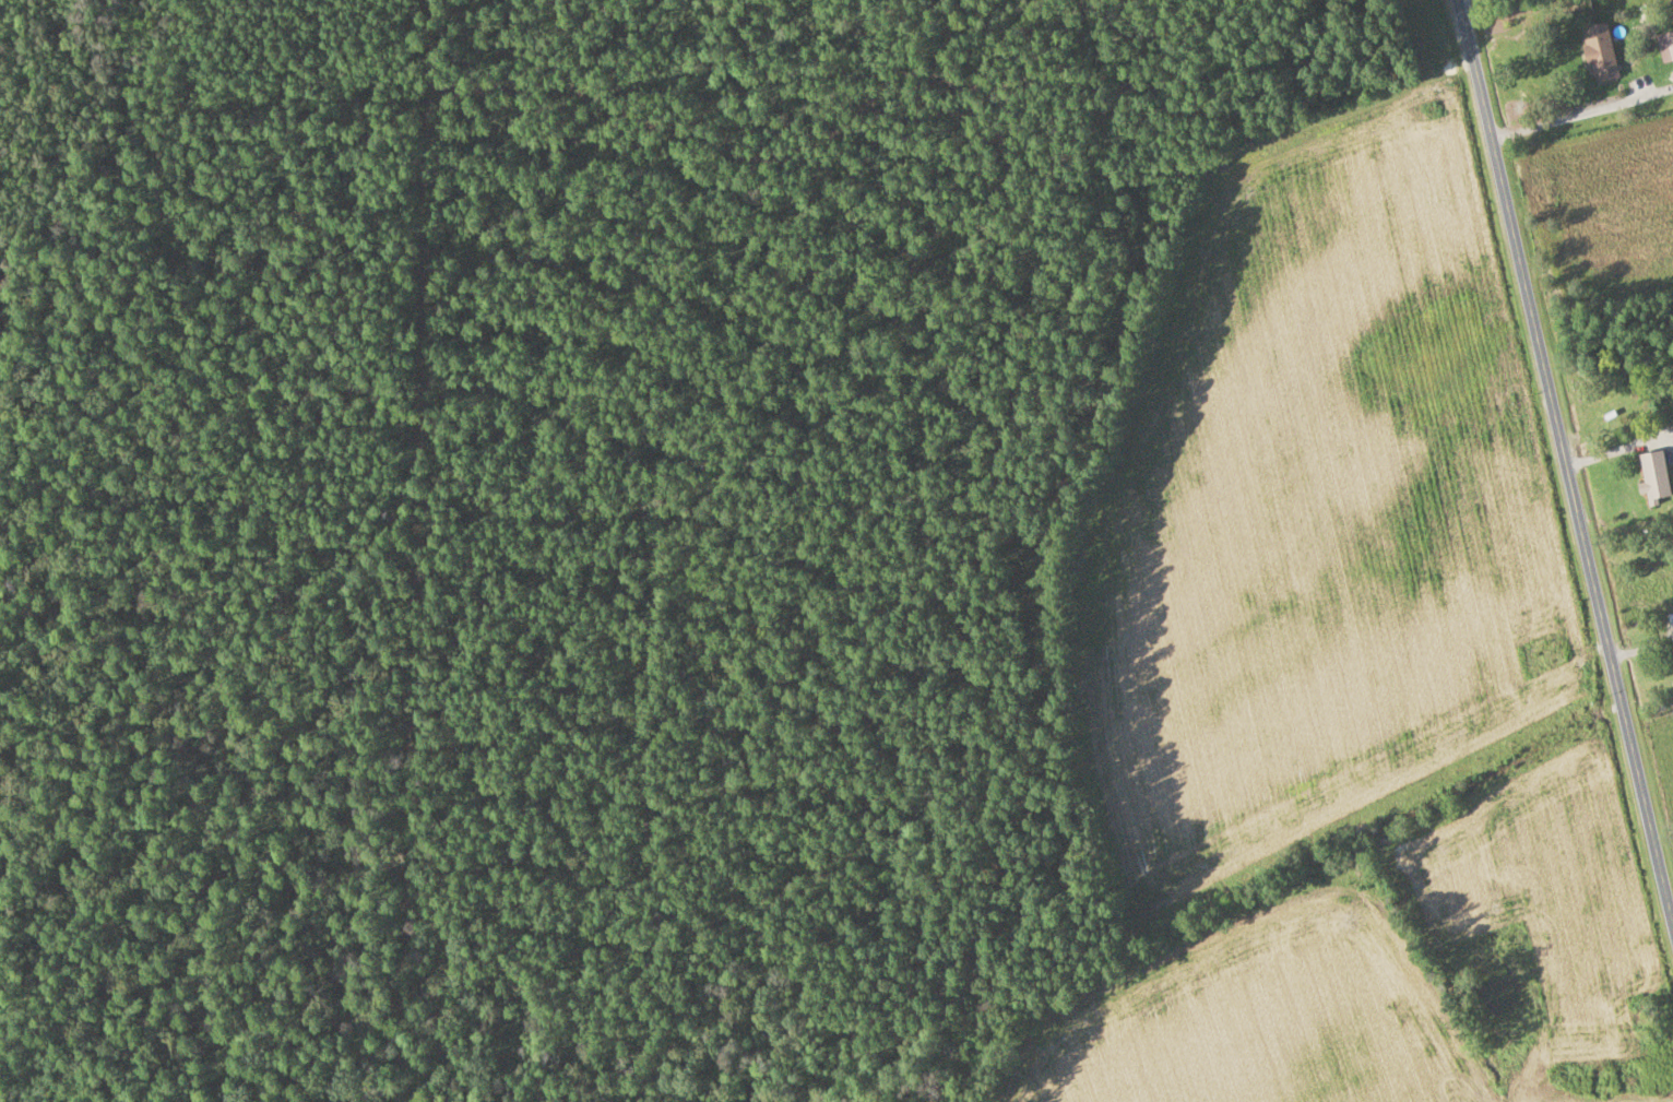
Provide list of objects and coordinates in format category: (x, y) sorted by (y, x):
building: (1598, 50)
road: (1567, 457)
building: (1653, 476)

